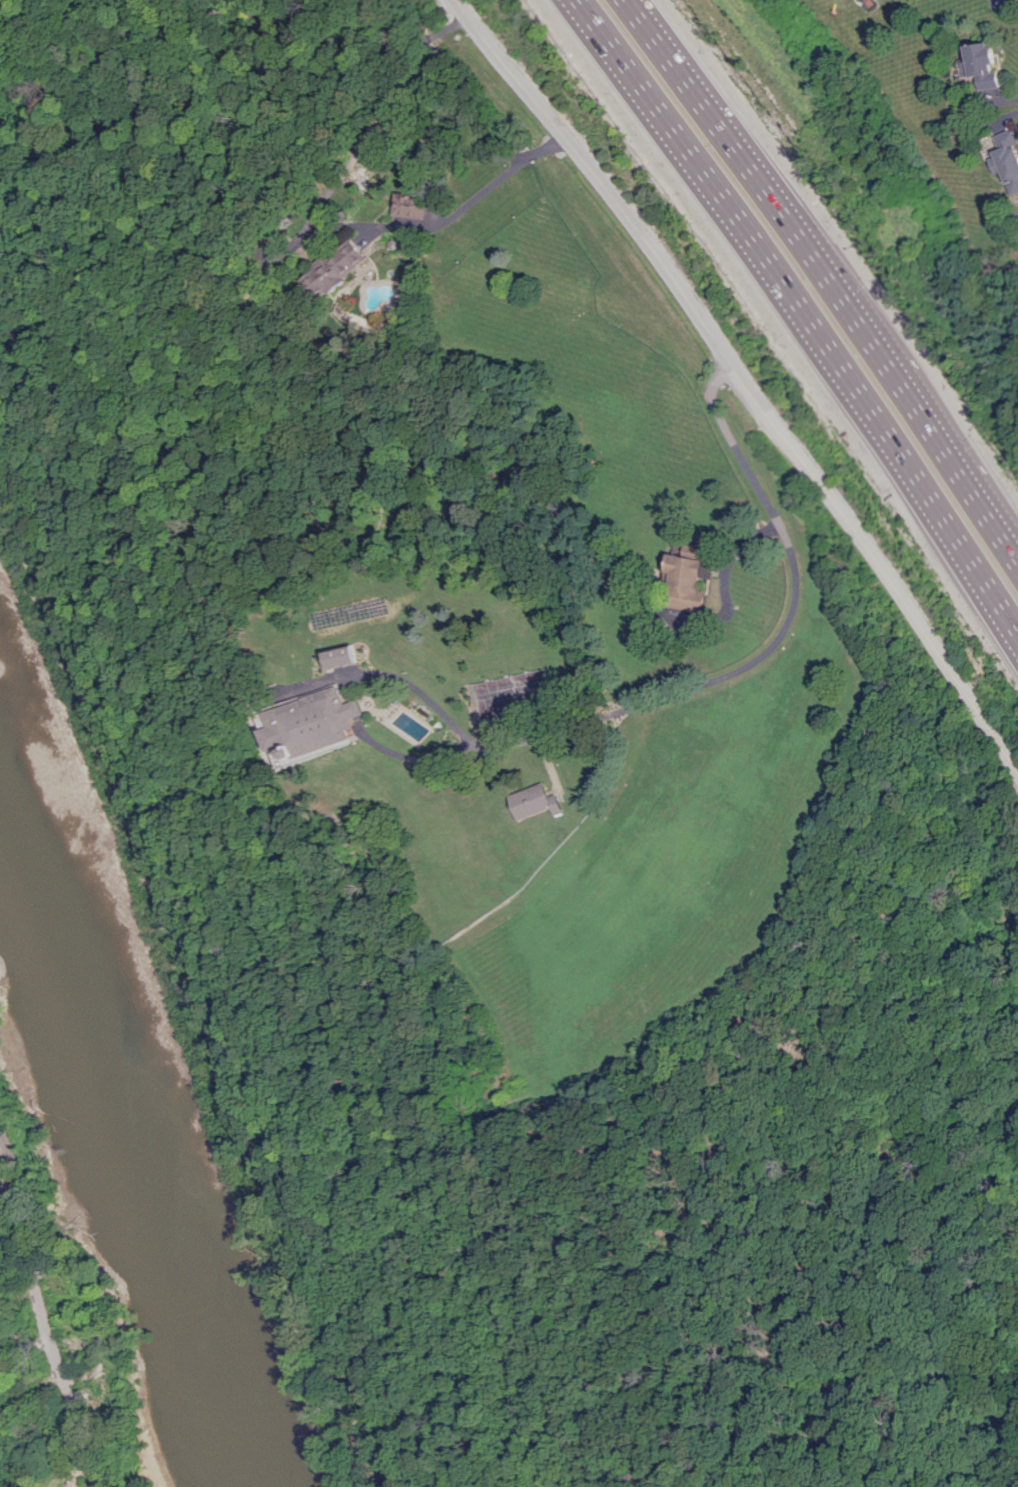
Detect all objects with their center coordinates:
building: (979, 65)
road: (505, 69)
road: (414, 127)
road: (540, 149)
road: (723, 156)
building: (1004, 159)
building: (408, 206)
road: (403, 224)
building: (334, 268)
road: (793, 315)
road: (719, 377)
road: (926, 439)
road: (791, 448)
building: (688, 578)
road: (766, 652)
building: (351, 657)
road: (407, 682)
building: (328, 723)
road: (423, 757)
building: (537, 801)
park: (871, 967)
river: (126, 1164)
road: (8, 1168)
road: (6, 1186)
road: (753, 1215)
road: (570, 1229)
road: (1009, 1256)
building: (6, 1337)
road: (47, 1341)
building: (72, 1351)
road: (335, 1362)
building: (48, 1480)

